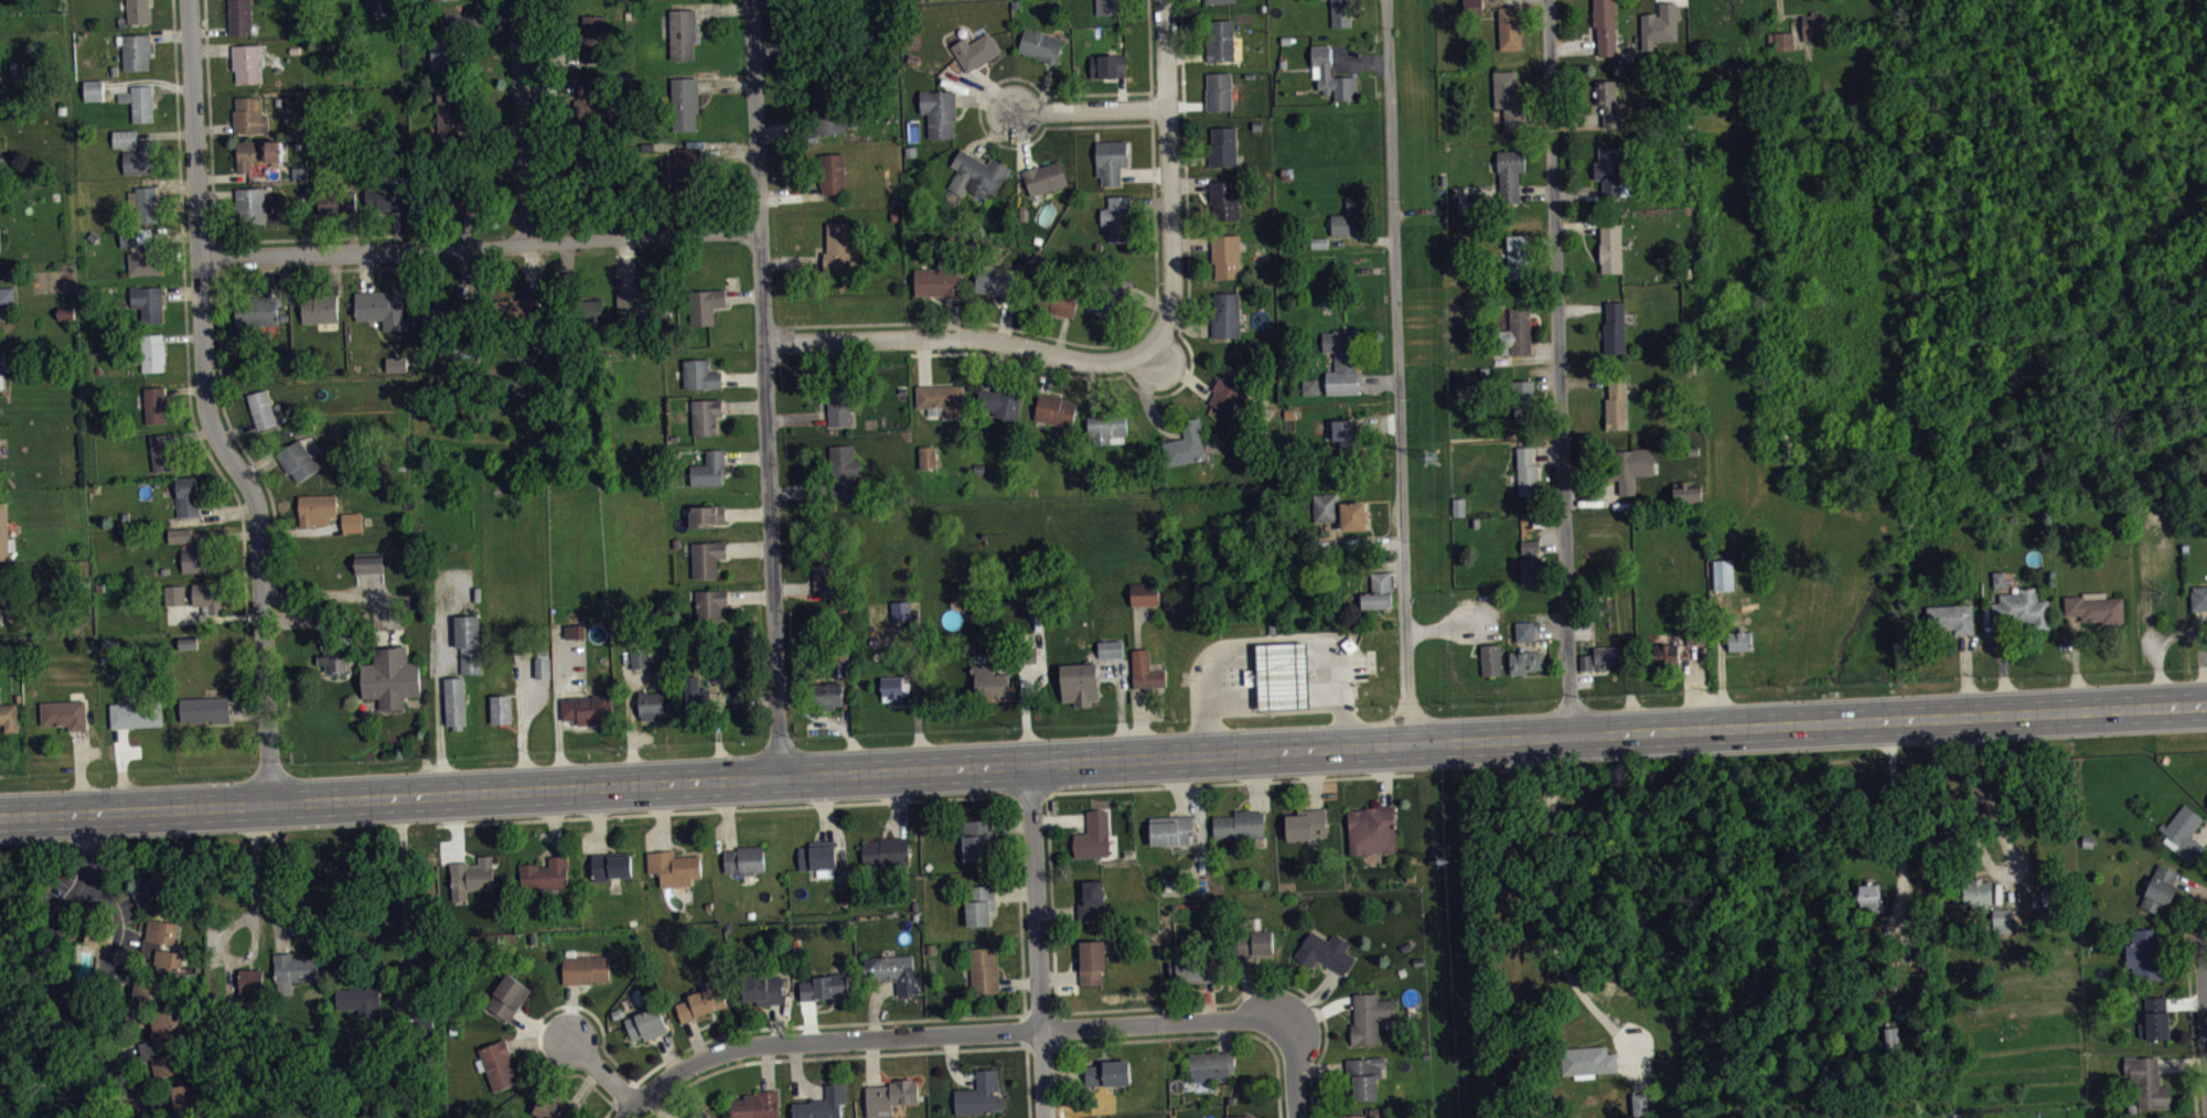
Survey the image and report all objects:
building: (436, 0)
building: (1219, 1)
building: (1108, 7)
building: (1471, 7)
building: (382, 9)
building: (138, 11)
building: (1340, 13)
building: (240, 17)
building: (1605, 25)
building: (1812, 25)
building: (1510, 28)
building: (1663, 31)
building: (683, 32)
building: (1785, 41)
building: (1223, 42)
building: (596, 44)
building: (1041, 45)
building: (136, 51)
building: (975, 51)
building: (441, 53)
road: (2114, 54)
building: (247, 62)
road: (2067, 62)
building: (1107, 65)
building: (17, 69)
building: (1330, 74)
building: (1219, 92)
road: (2172, 96)
building: (95, 97)
building: (1509, 97)
building: (140, 101)
building: (685, 103)
building: (1608, 103)
building: (828, 107)
building: (588, 108)
road: (2189, 110)
building: (939, 111)
building: (249, 115)
road: (1096, 115)
building: (450, 116)
road: (521, 122)
building: (125, 138)
building: (1223, 146)
building: (257, 153)
building: (140, 159)
building: (1111, 160)
building: (3, 163)
building: (593, 169)
building: (688, 172)
building: (832, 173)
building: (1510, 173)
building: (977, 174)
building: (1611, 174)
road: (1153, 175)
building: (1044, 178)
road: (1174, 182)
building: (1224, 198)
building: (144, 203)
building: (250, 204)
building: (385, 204)
building: (463, 204)
building: (340, 211)
building: (1118, 218)
building: (1347, 218)
road: (213, 227)
building: (0, 240)
building: (1319, 241)
building: (837, 246)
road: (482, 247)
building: (1610, 248)
building: (141, 250)
building: (1225, 256)
building: (1520, 257)
building: (939, 281)
building: (996, 282)
building: (7, 297)
building: (1110, 297)
building: (1057, 301)
building: (148, 302)
building: (642, 304)
building: (705, 304)
building: (319, 308)
building: (382, 308)
building: (256, 310)
road: (218, 311)
building: (578, 312)
building: (515, 314)
building: (1225, 314)
building: (446, 318)
building: (1615, 327)
road: (186, 329)
building: (1514, 329)
road: (966, 340)
road: (1185, 342)
building: (151, 352)
building: (1, 359)
building: (1341, 361)
building: (398, 369)
road: (1563, 369)
road: (1402, 373)
building: (700, 374)
building: (1, 380)
building: (1310, 386)
road: (767, 388)
building: (1232, 390)
building: (942, 398)
building: (1523, 400)
building: (1000, 401)
building: (154, 404)
building: (839, 404)
building: (1617, 404)
building: (261, 407)
road: (213, 408)
building: (1054, 409)
building: (705, 416)
building: (1106, 427)
building: (1347, 438)
building: (1186, 443)
building: (2, 447)
building: (0, 452)
building: (162, 452)
building: (926, 456)
building: (296, 460)
power tower: (1429, 461)
road: (2171, 465)
building: (1629, 466)
building: (709, 469)
building: (1526, 471)
building: (843, 472)
building: (1686, 493)
building: (186, 496)
building: (315, 508)
building: (1341, 510)
building: (1461, 513)
building: (706, 515)
building: (352, 522)
building: (4, 534)
building: (180, 535)
building: (195, 558)
building: (707, 558)
building: (368, 562)
building: (1531, 562)
building: (824, 573)
building: (1723, 574)
building: (1999, 579)
building: (1379, 591)
building: (1144, 593)
building: (174, 594)
building: (207, 596)
building: (2198, 596)
building: (709, 606)
building: (1756, 606)
building: (2093, 606)
building: (0, 608)
building: (2023, 608)
building: (900, 610)
building: (1950, 617)
building: (575, 630)
building: (1524, 631)
building: (577, 636)
building: (1695, 637)
building: (1739, 639)
building: (188, 642)
building: (468, 642)
building: (1110, 648)
building: (190, 649)
building: (334, 653)
building: (1667, 655)
building: (639, 657)
building: (1600, 657)
building: (1490, 659)
building: (1525, 660)
building: (542, 663)
building: (1145, 669)
gas station: (1282, 675)
building: (390, 677)
building: (988, 678)
building: (1079, 682)
building: (891, 688)
building: (827, 695)
building: (696, 696)
building: (454, 701)
building: (650, 705)
building: (205, 708)
building: (501, 708)
building: (588, 708)
road: (440, 711)
building: (64, 713)
building: (136, 713)
building: (9, 717)
road: (1103, 760)
road: (1899, 817)
building: (1306, 824)
building: (1239, 825)
building: (1372, 829)
building: (1171, 830)
building: (2184, 831)
building: (1094, 835)
building: (977, 839)
building: (886, 851)
building: (818, 857)
building: (743, 859)
power tower: (1440, 861)
building: (610, 864)
building: (674, 867)
road: (1992, 868)
building: (545, 873)
road: (258, 878)
building: (353, 878)
building: (469, 878)
building: (167, 888)
building: (2158, 889)
road: (1553, 892)
building: (1869, 895)
building: (1092, 901)
building: (1989, 901)
building: (979, 905)
road: (114, 918)
road: (1035, 940)
building: (1247, 943)
building: (1326, 953)
building: (2145, 954)
building: (169, 955)
building: (1091, 961)
building: (1192, 967)
building: (585, 968)
building: (293, 970)
building: (983, 970)
building: (892, 971)
road: (43, 972)
road: (2205, 972)
building: (250, 979)
building: (824, 987)
building: (763, 989)
building: (314, 996)
building: (508, 997)
building: (362, 999)
building: (701, 1002)
building: (1369, 1017)
building: (2154, 1018)
building: (645, 1023)
building: (169, 1032)
road: (952, 1032)
building: (1890, 1039)
building: (1586, 1060)
building: (497, 1064)
building: (1211, 1066)
road: (1290, 1067)
building: (172, 1069)
road: (599, 1069)
building: (1107, 1073)
building: (1362, 1077)
building: (2146, 1082)
building: (981, 1095)
building: (889, 1096)
building: (186, 1104)
building: (822, 1104)
building: (756, 1105)
building: (551, 1108)
building: (1642, 1108)
road: (625, 1109)
building: (699, 1114)
building: (1356, 1116)
building: (1238, 1117)

